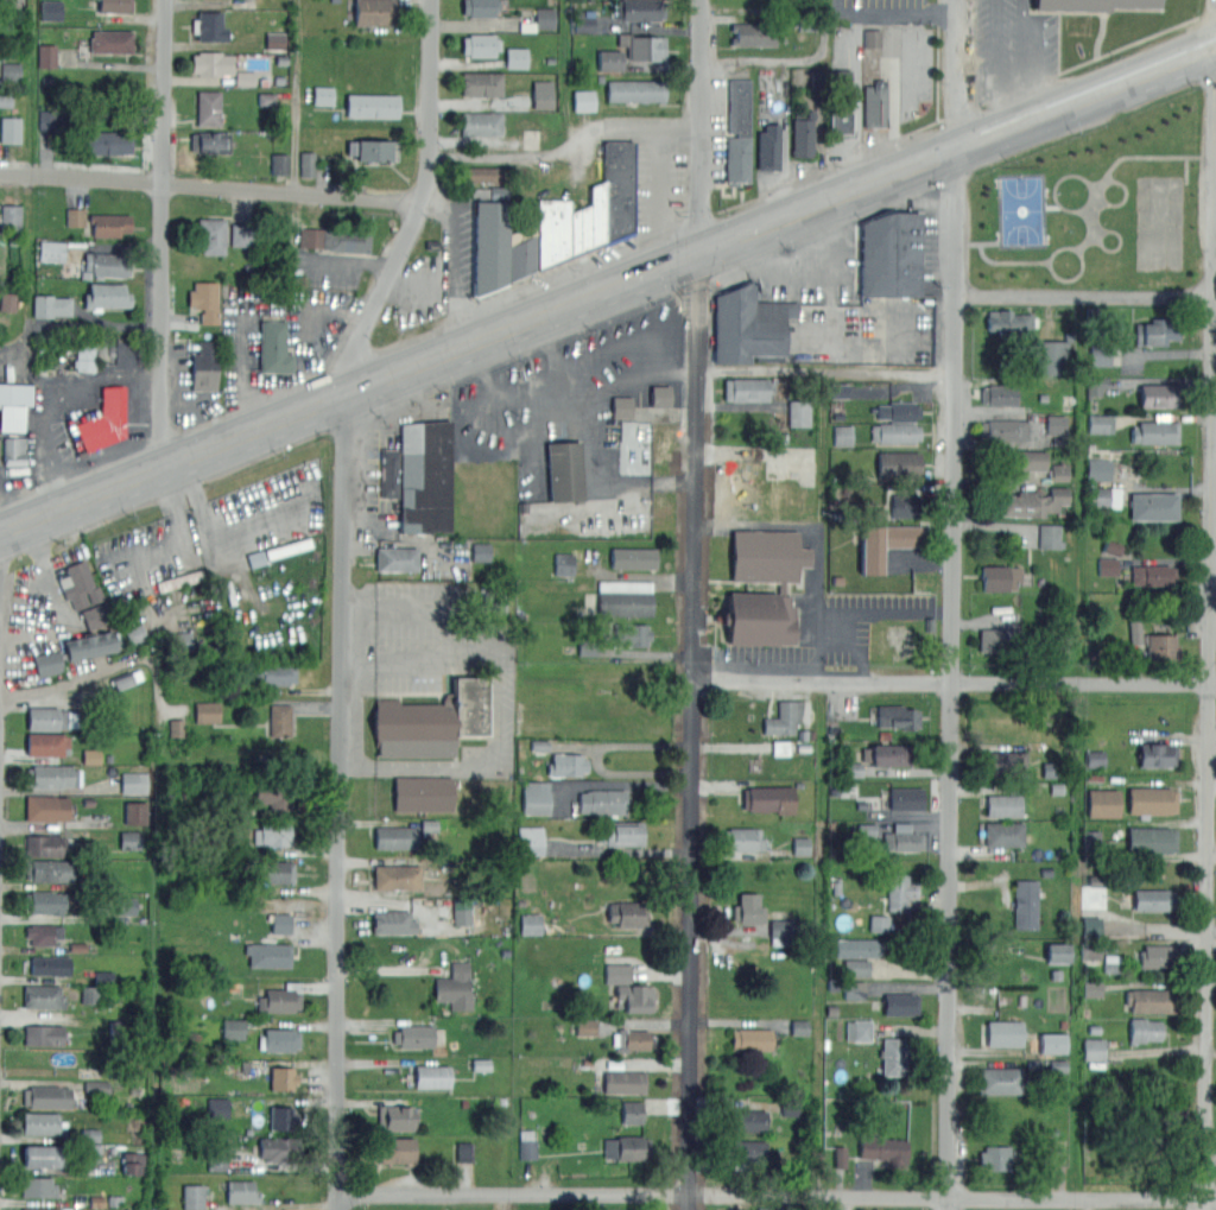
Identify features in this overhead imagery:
building: (1096, 4)
building: (114, 5)
building: (483, 7)
building: (639, 9)
parking lot: (891, 9)
building: (51, 11)
building: (374, 12)
road: (893, 14)
building: (545, 18)
building: (209, 25)
building: (754, 34)
building: (872, 38)
building: (110, 40)
building: (481, 44)
building: (645, 46)
parking lot: (1014, 46)
building: (47, 56)
building: (517, 57)
building: (609, 59)
road: (786, 61)
road: (1024, 62)
building: (211, 63)
road: (996, 68)
building: (9, 71)
parking lot: (900, 75)
building: (483, 84)
building: (636, 91)
building: (541, 94)
building: (323, 95)
road: (894, 95)
building: (583, 100)
building: (841, 102)
building: (876, 104)
building: (373, 106)
road: (860, 106)
building: (208, 107)
building: (480, 123)
building: (11, 129)
road: (1007, 129)
building: (739, 132)
building: (803, 134)
road: (787, 140)
building: (106, 141)
building: (210, 141)
road: (568, 145)
building: (769, 147)
building: (376, 150)
building: (279, 164)
building: (308, 164)
building: (486, 173)
road: (211, 184)
building: (617, 188)
road: (659, 197)
road: (420, 204)
park: (1097, 207)
building: (75, 216)
building: (11, 218)
building: (588, 221)
building: (109, 224)
building: (552, 232)
parking lot: (658, 232)
building: (241, 234)
road: (752, 234)
road: (161, 235)
building: (211, 235)
building: (334, 239)
building: (432, 245)
building: (489, 246)
building: (522, 252)
traffic signals: (704, 253)
building: (52, 254)
building: (892, 255)
road: (1215, 262)
road: (346, 264)
building: (107, 265)
parking lot: (322, 268)
parking lot: (804, 270)
road: (652, 273)
road: (783, 273)
building: (84, 275)
parking lot: (423, 289)
road: (1084, 293)
building: (106, 296)
road: (495, 299)
building: (204, 300)
building: (7, 303)
building: (50, 305)
road: (274, 306)
road: (347, 316)
building: (1012, 323)
building: (748, 325)
building: (1157, 331)
parking lot: (861, 332)
parking lot: (279, 338)
road: (883, 343)
building: (274, 344)
building: (126, 351)
road: (552, 353)
building: (1100, 355)
building: (84, 356)
building: (1051, 356)
building: (204, 367)
road: (829, 370)
road: (182, 376)
road: (272, 379)
parking lot: (194, 381)
road: (64, 385)
building: (1095, 386)
road: (566, 389)
building: (749, 389)
building: (838, 389)
building: (666, 394)
building: (1000, 394)
building: (1159, 395)
building: (14, 405)
road: (186, 405)
parking lot: (93, 407)
building: (622, 407)
building: (898, 411)
road: (133, 414)
road: (299, 414)
road: (394, 414)
building: (797, 416)
parking lot: (575, 418)
building: (103, 422)
building: (1101, 424)
building: (1053, 425)
building: (1003, 430)
building: (1157, 431)
building: (895, 432)
building: (842, 435)
road: (533, 444)
building: (645, 449)
building: (14, 451)
road: (95, 456)
parking lot: (388, 458)
building: (1028, 461)
building: (898, 464)
building: (1098, 469)
building: (565, 470)
building: (1059, 471)
building: (389, 473)
building: (424, 476)
road: (595, 486)
road: (362, 488)
building: (1107, 496)
building: (1032, 502)
building: (905, 505)
building: (1154, 506)
parking lot: (262, 520)
road: (566, 524)
road: (227, 527)
building: (1050, 536)
building: (883, 543)
building: (287, 547)
building: (481, 551)
road: (144, 557)
building: (255, 558)
building: (397, 558)
building: (633, 558)
building: (564, 564)
road: (44, 566)
building: (1108, 566)
building: (1153, 574)
building: (1000, 577)
building: (179, 581)
parking lot: (157, 584)
building: (78, 585)
building: (781, 588)
parking lot: (59, 590)
road: (817, 591)
building: (625, 597)
road: (696, 604)
road: (954, 604)
building: (493, 606)
road: (397, 607)
building: (95, 615)
parking lot: (822, 622)
building: (134, 632)
building: (1134, 632)
building: (632, 634)
road: (30, 635)
building: (995, 640)
building: (183, 641)
building: (1160, 641)
building: (89, 645)
building: (590, 647)
parking lot: (57, 652)
building: (47, 663)
road: (425, 663)
road: (785, 664)
building: (274, 673)
road: (956, 680)
road: (1210, 682)
parking lot: (439, 684)
building: (207, 711)
building: (898, 716)
building: (784, 717)
building: (50, 718)
building: (280, 720)
building: (430, 721)
building: (176, 727)
building: (47, 743)
building: (780, 747)
road: (496, 754)
building: (888, 754)
building: (1157, 754)
building: (90, 755)
building: (1095, 759)
building: (1005, 761)
building: (568, 764)
building: (1051, 768)
building: (851, 769)
building: (51, 775)
building: (129, 781)
building: (423, 793)
building: (274, 797)
building: (534, 797)
building: (767, 798)
building: (906, 798)
building: (1152, 799)
building: (602, 802)
road: (341, 803)
building: (1102, 803)
building: (1002, 805)
building: (46, 807)
building: (135, 812)
building: (867, 829)
building: (623, 832)
building: (1001, 834)
building: (272, 835)
building: (395, 837)
building: (902, 837)
building: (745, 838)
building: (129, 840)
building: (530, 840)
building: (1091, 840)
building: (1152, 840)
building: (44, 845)
building: (800, 845)
building: (50, 870)
building: (278, 872)
building: (384, 876)
building: (1097, 880)
building: (901, 893)
building: (1151, 899)
building: (47, 902)
building: (1025, 904)
building: (123, 905)
building: (748, 908)
building: (462, 912)
building: (628, 913)
building: (280, 921)
building: (392, 921)
building: (530, 921)
building: (879, 923)
building: (1090, 926)
building: (779, 927)
building: (43, 933)
building: (77, 946)
building: (856, 949)
building: (1090, 950)
building: (1057, 952)
building: (268, 955)
building: (1157, 956)
building: (50, 965)
building: (856, 967)
building: (617, 973)
building: (103, 976)
building: (454, 987)
building: (1092, 989)
building: (854, 990)
building: (89, 994)
building: (43, 996)
building: (634, 997)
building: (280, 1000)
building: (1148, 1000)
building: (900, 1003)
building: (119, 1026)
building: (585, 1026)
building: (799, 1027)
building: (233, 1028)
building: (859, 1030)
building: (1145, 1030)
building: (1003, 1033)
building: (43, 1034)
building: (416, 1035)
building: (279, 1039)
building: (633, 1039)
building: (750, 1039)
building: (1052, 1043)
building: (1092, 1049)
building: (893, 1057)
building: (480, 1064)
building: (1058, 1065)
building: (431, 1076)
building: (283, 1077)
building: (999, 1081)
building: (623, 1082)
building: (96, 1085)
building: (46, 1096)
building: (217, 1107)
building: (632, 1111)
building: (280, 1117)
building: (395, 1117)
building: (748, 1120)
building: (43, 1123)
building: (89, 1134)
building: (527, 1144)
building: (271, 1147)
building: (626, 1148)
building: (394, 1149)
building: (885, 1149)
building: (91, 1151)
building: (464, 1151)
building: (743, 1152)
building: (40, 1155)
building: (840, 1157)
building: (995, 1157)
building: (218, 1160)
building: (133, 1163)
building: (37, 1186)
building: (241, 1191)
road: (775, 1195)
building: (192, 1196)
building: (97, 1201)
building: (39, 1208)

